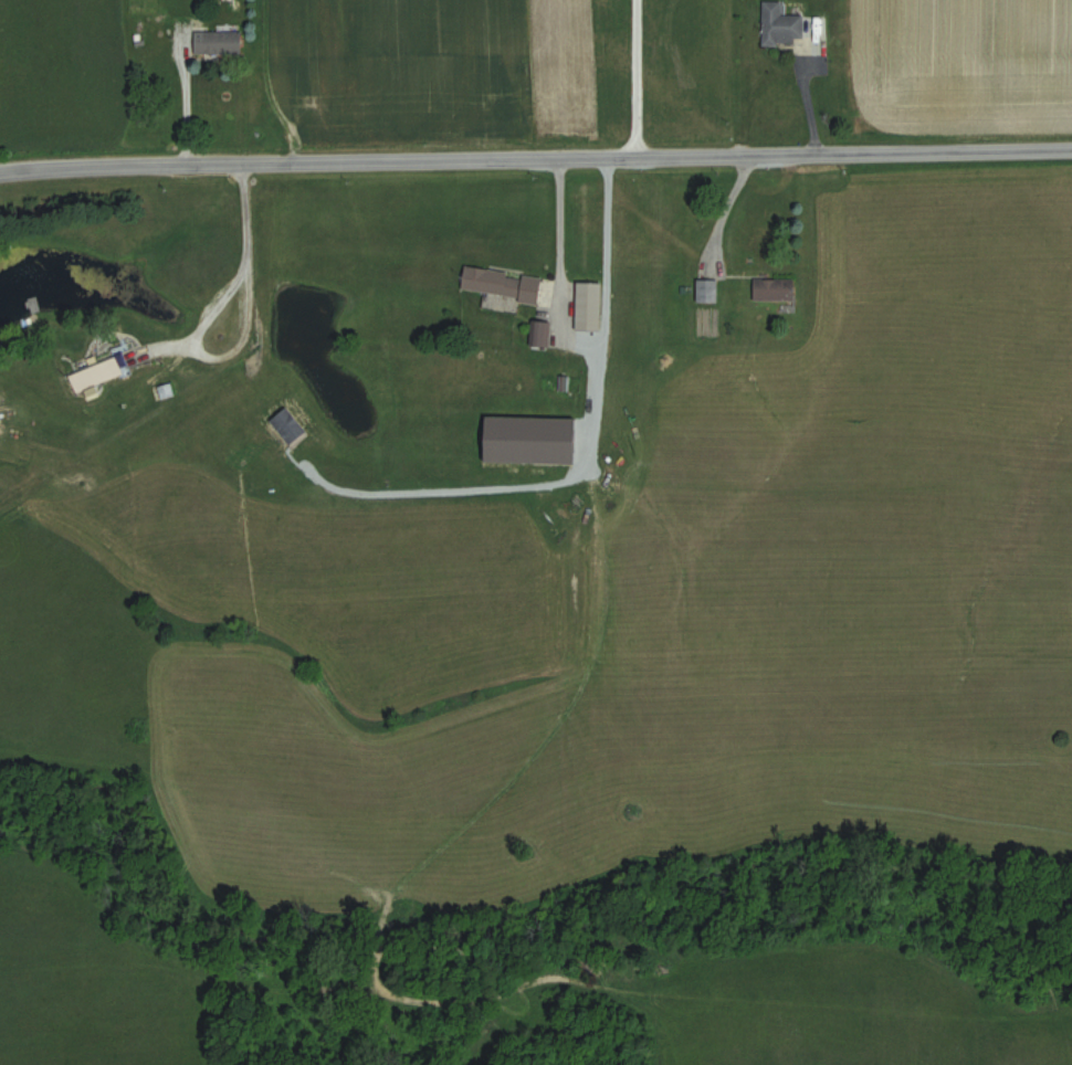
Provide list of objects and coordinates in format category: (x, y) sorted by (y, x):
building: (782, 25)
building: (218, 43)
road: (633, 77)
road: (180, 92)
road: (812, 106)
road: (535, 157)
road: (724, 213)
road: (243, 214)
road: (606, 232)
road: (557, 250)
building: (502, 284)
building: (707, 291)
building: (775, 291)
building: (589, 307)
building: (538, 335)
road: (222, 356)
building: (96, 373)
building: (0, 422)

